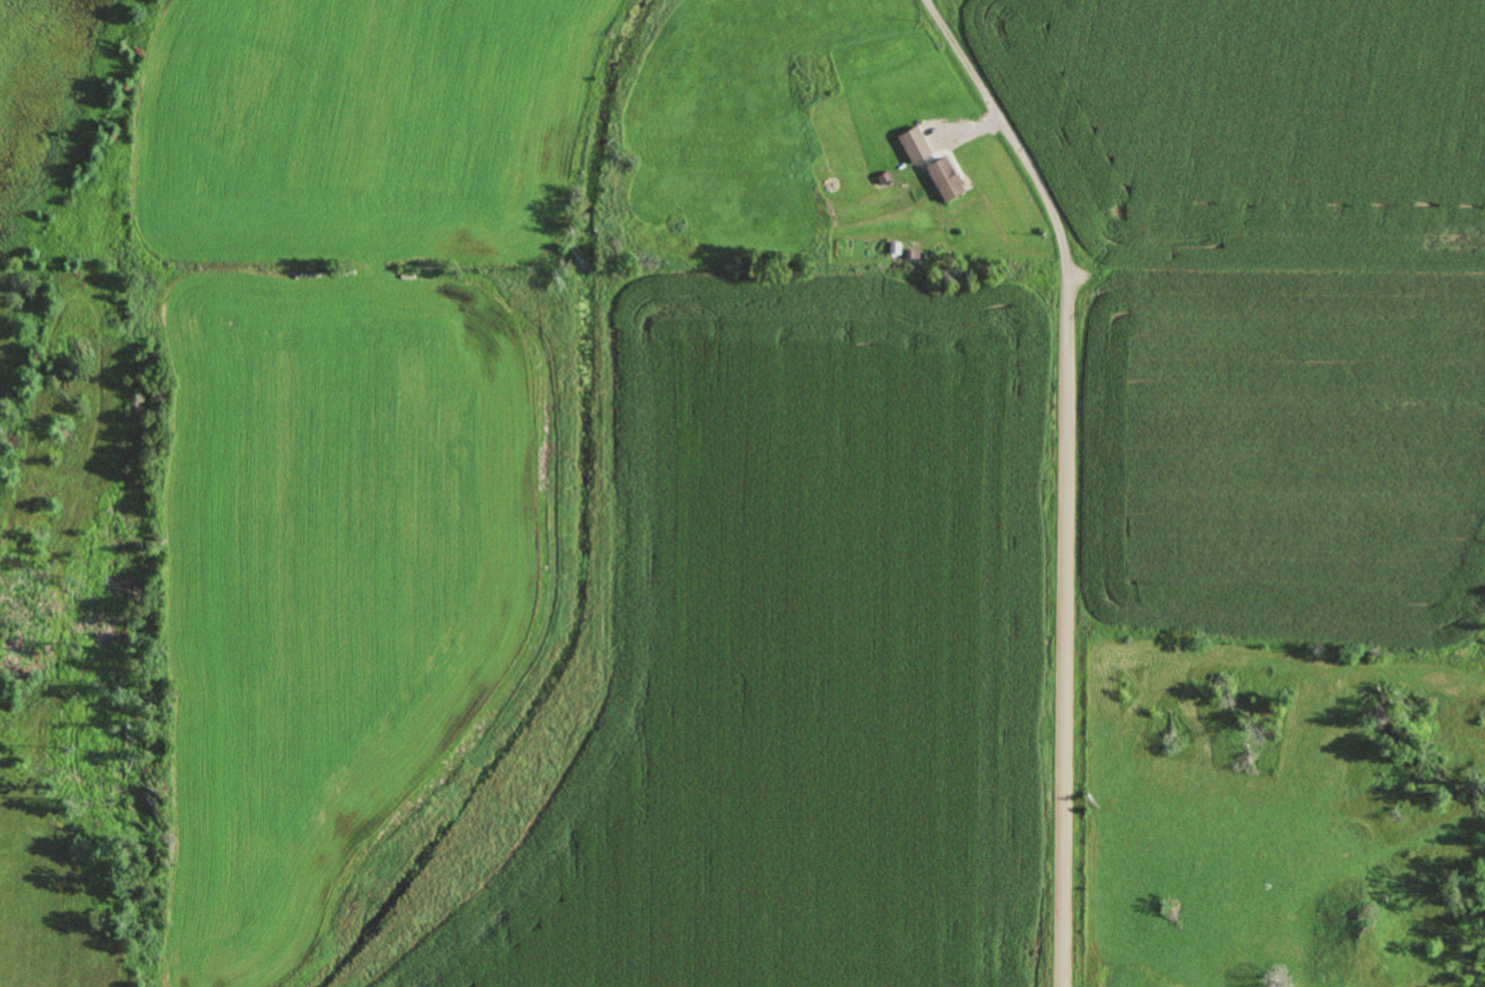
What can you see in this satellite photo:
road: (1044, 137)
building: (943, 179)
road: (1088, 635)

